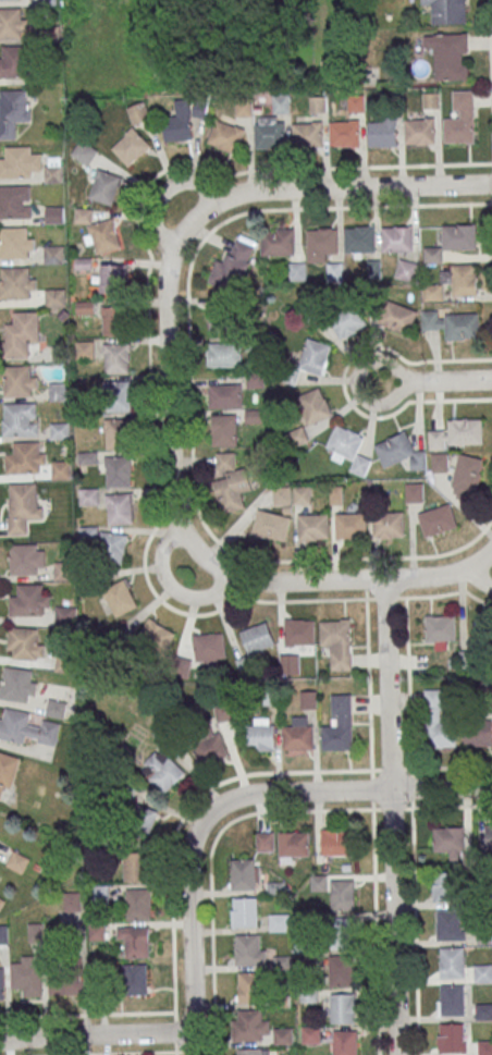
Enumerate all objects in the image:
building: (47, 2)
building: (447, 11)
building: (12, 23)
building: (448, 54)
building: (13, 61)
road: (490, 64)
building: (431, 100)
building: (281, 102)
building: (13, 111)
building: (138, 112)
building: (183, 119)
building: (419, 130)
building: (459, 130)
building: (344, 133)
building: (383, 133)
building: (269, 135)
building: (307, 135)
building: (225, 136)
building: (131, 146)
building: (85, 151)
building: (20, 162)
building: (53, 169)
road: (196, 183)
building: (104, 186)
road: (339, 187)
building: (15, 201)
building: (54, 214)
road: (159, 226)
building: (99, 231)
building: (359, 238)
building: (397, 238)
building: (278, 241)
building: (323, 241)
building: (16, 242)
building: (453, 242)
building: (53, 254)
building: (233, 266)
building: (297, 270)
building: (407, 270)
building: (335, 271)
building: (112, 278)
building: (464, 279)
building: (17, 282)
building: (433, 292)
building: (54, 296)
building: (397, 316)
building: (111, 320)
building: (348, 320)
building: (454, 323)
building: (22, 335)
building: (224, 354)
building: (315, 356)
building: (115, 358)
building: (20, 380)
road: (433, 384)
road: (149, 387)
road: (168, 387)
road: (189, 389)
building: (59, 391)
building: (119, 395)
building: (225, 395)
building: (313, 405)
building: (254, 416)
building: (21, 419)
building: (224, 429)
building: (60, 430)
building: (458, 433)
building: (297, 436)
building: (342, 442)
building: (402, 452)
building: (26, 458)
building: (439, 462)
building: (360, 465)
building: (61, 469)
building: (118, 470)
building: (467, 476)
building: (231, 483)
building: (415, 492)
building: (89, 495)
building: (23, 506)
building: (119, 508)
building: (438, 520)
building: (389, 524)
building: (272, 525)
building: (350, 525)
building: (313, 527)
building: (114, 547)
road: (162, 552)
building: (26, 559)
building: (62, 571)
road: (479, 578)
road: (346, 579)
road: (202, 594)
building: (120, 598)
building: (30, 600)
building: (64, 616)
building: (440, 628)
building: (299, 631)
building: (153, 638)
building: (258, 638)
building: (337, 641)
building: (25, 642)
building: (477, 647)
building: (210, 648)
building: (61, 664)
building: (180, 667)
building: (19, 684)
road: (368, 684)
building: (308, 699)
building: (56, 708)
building: (225, 712)
building: (438, 721)
building: (339, 724)
building: (27, 728)
building: (299, 734)
building: (478, 734)
building: (261, 736)
building: (210, 748)
building: (8, 770)
building: (162, 771)
road: (291, 772)
road: (347, 792)
road: (390, 817)
building: (142, 821)
road: (411, 825)
building: (489, 834)
building: (265, 841)
building: (335, 842)
building: (294, 843)
road: (213, 844)
building: (452, 845)
building: (19, 861)
building: (134, 866)
building: (243, 874)
building: (443, 885)
building: (99, 893)
building: (341, 894)
building: (72, 900)
building: (1, 901)
building: (138, 903)
building: (246, 911)
building: (279, 922)
building: (448, 924)
road: (376, 931)
road: (173, 932)
road: (189, 932)
building: (341, 932)
building: (135, 941)
building: (247, 948)
building: (453, 962)
building: (341, 969)
building: (482, 972)
building: (28, 977)
building: (135, 979)
building: (67, 982)
building: (2, 983)
building: (250, 986)
building: (452, 999)
building: (342, 1007)
building: (483, 1010)
road: (87, 1014)
building: (250, 1026)
building: (311, 1033)
road: (96, 1034)
building: (283, 1035)
building: (452, 1038)
building: (344, 1042)
building: (484, 1047)
building: (249, 1051)
road: (108, 1053)

